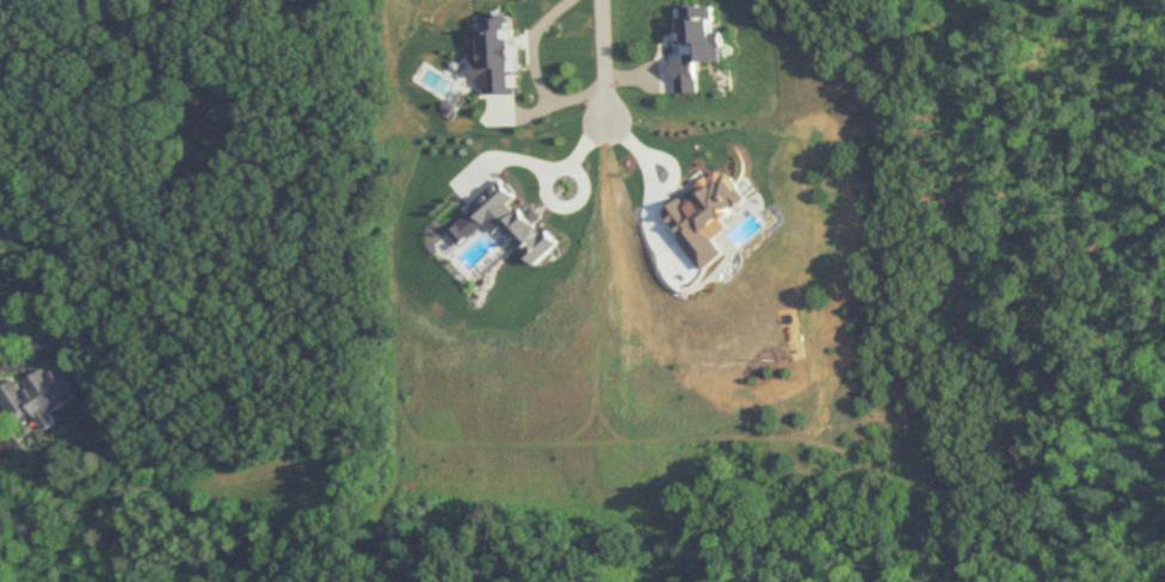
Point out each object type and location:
road: (603, 64)
road: (535, 72)
road: (538, 165)
road: (653, 192)
road: (8, 329)
building: (33, 398)
park: (35, 570)

